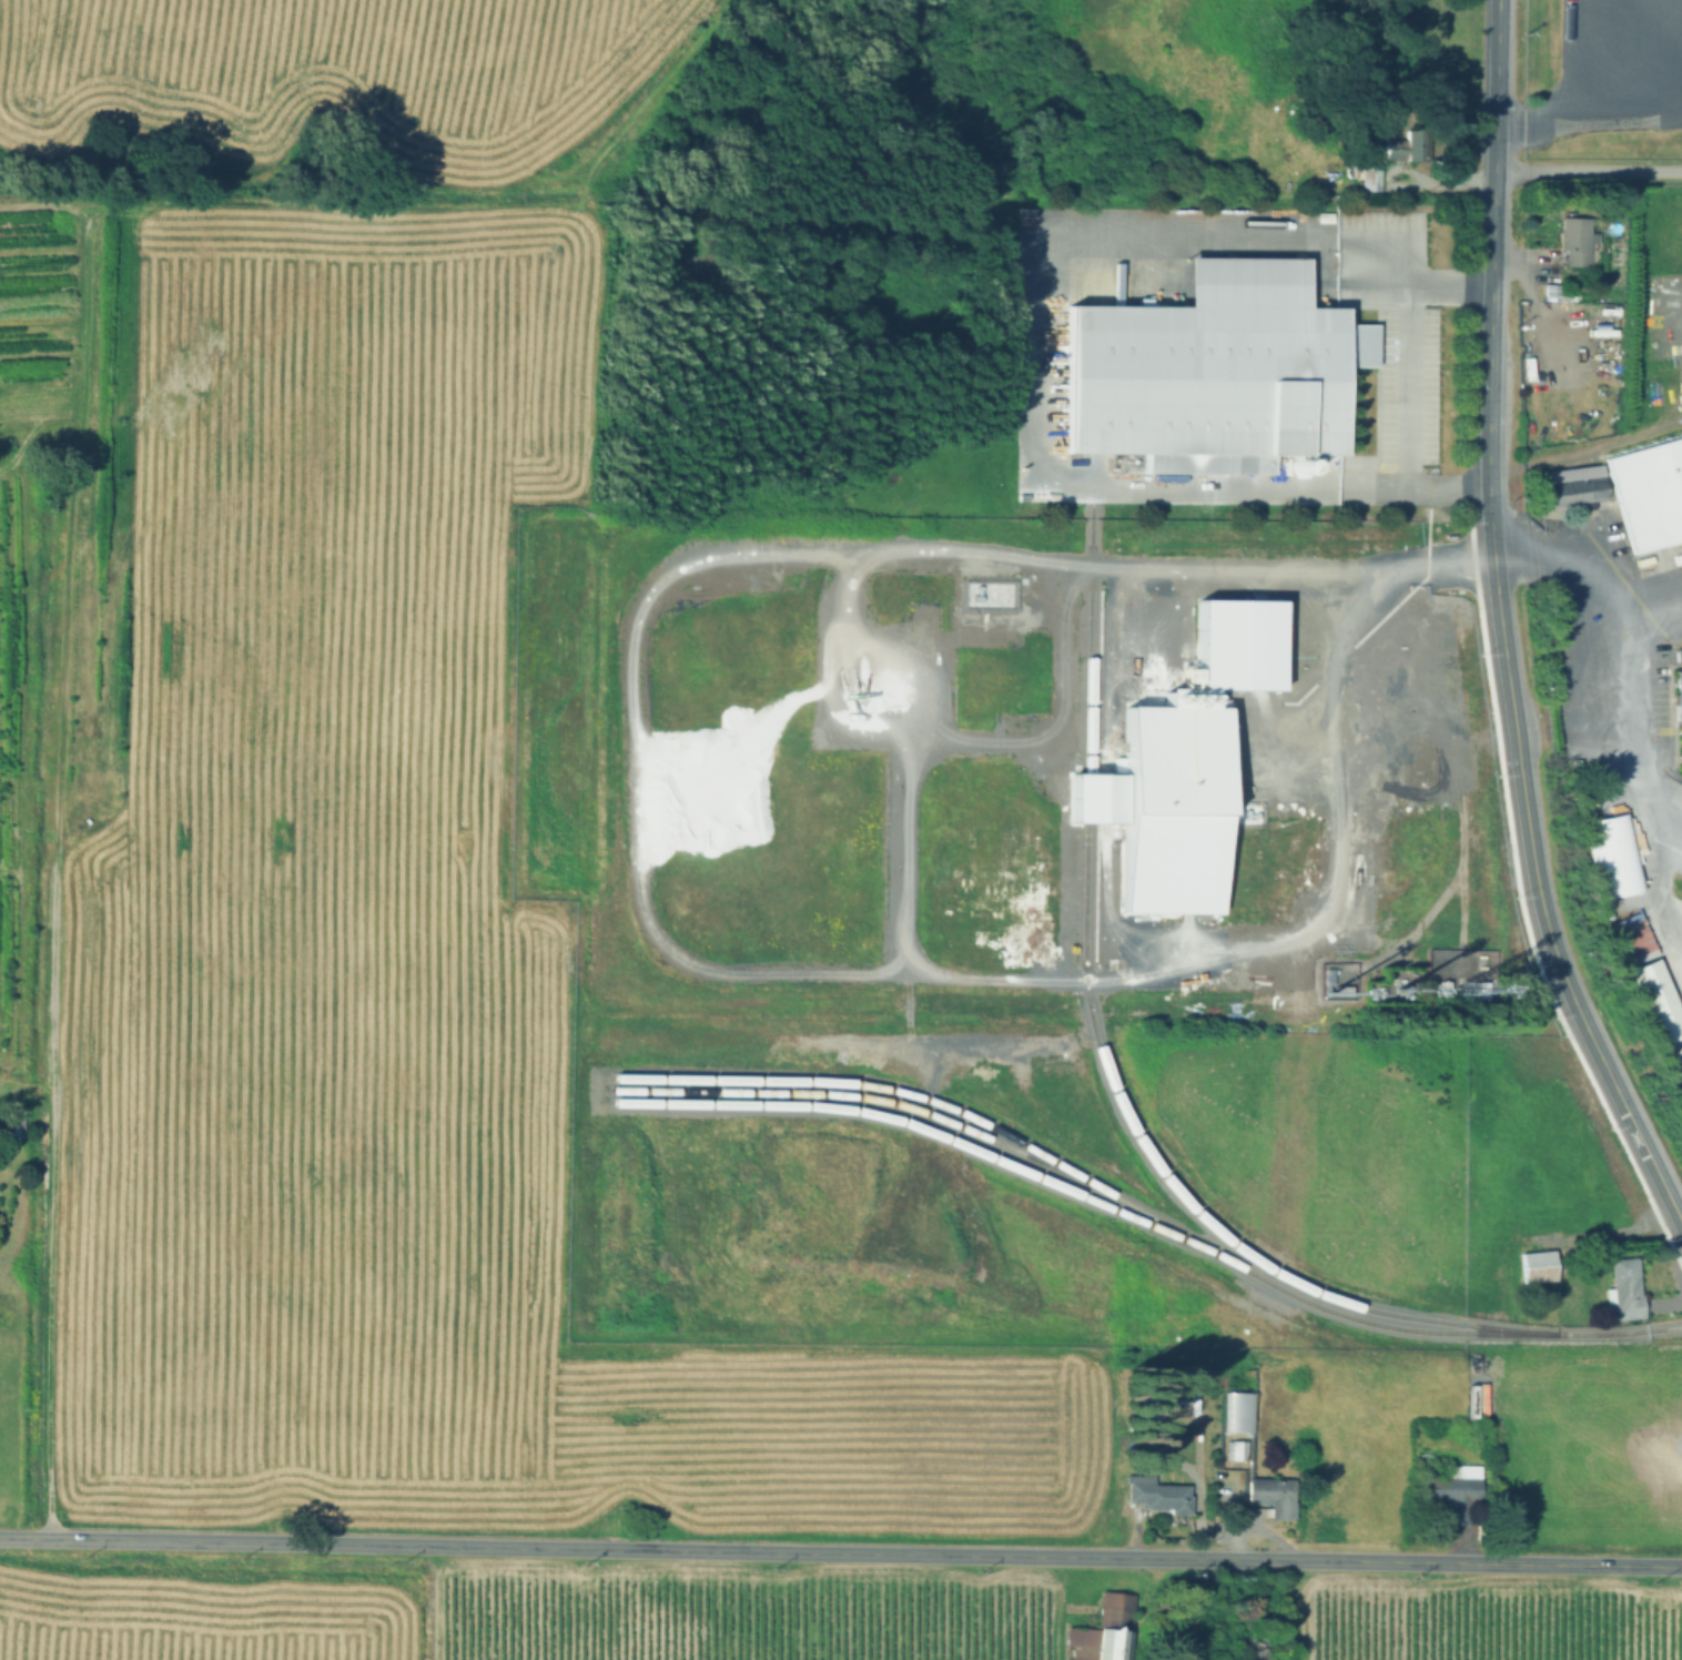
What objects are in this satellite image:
road: (1620, 44)
crop: (322, 97)
road: (1587, 100)
road: (1588, 174)
building: (1573, 233)
building: (1549, 301)
road: (1038, 353)
building: (1210, 366)
road: (1406, 386)
building: (1572, 492)
building: (1649, 493)
road: (1553, 561)
road: (1645, 590)
road: (1502, 628)
building: (1239, 655)
building: (1678, 656)
building: (1569, 687)
railway: (1086, 688)
building: (1679, 709)
road: (1637, 723)
railway: (1087, 809)
road: (1360, 809)
building: (1165, 811)
crop: (363, 920)
building: (1634, 947)
building: (1656, 1001)
railway: (840, 1090)
railway: (936, 1131)
railway: (1093, 1181)
railway: (1238, 1245)
building: (1536, 1267)
building: (1624, 1289)
building: (1144, 1405)
building: (1453, 1491)
building: (1155, 1495)
building: (1269, 1498)
road: (841, 1552)
crop: (508, 1613)
crop: (1490, 1620)
building: (1101, 1631)
building: (1259, 1648)

